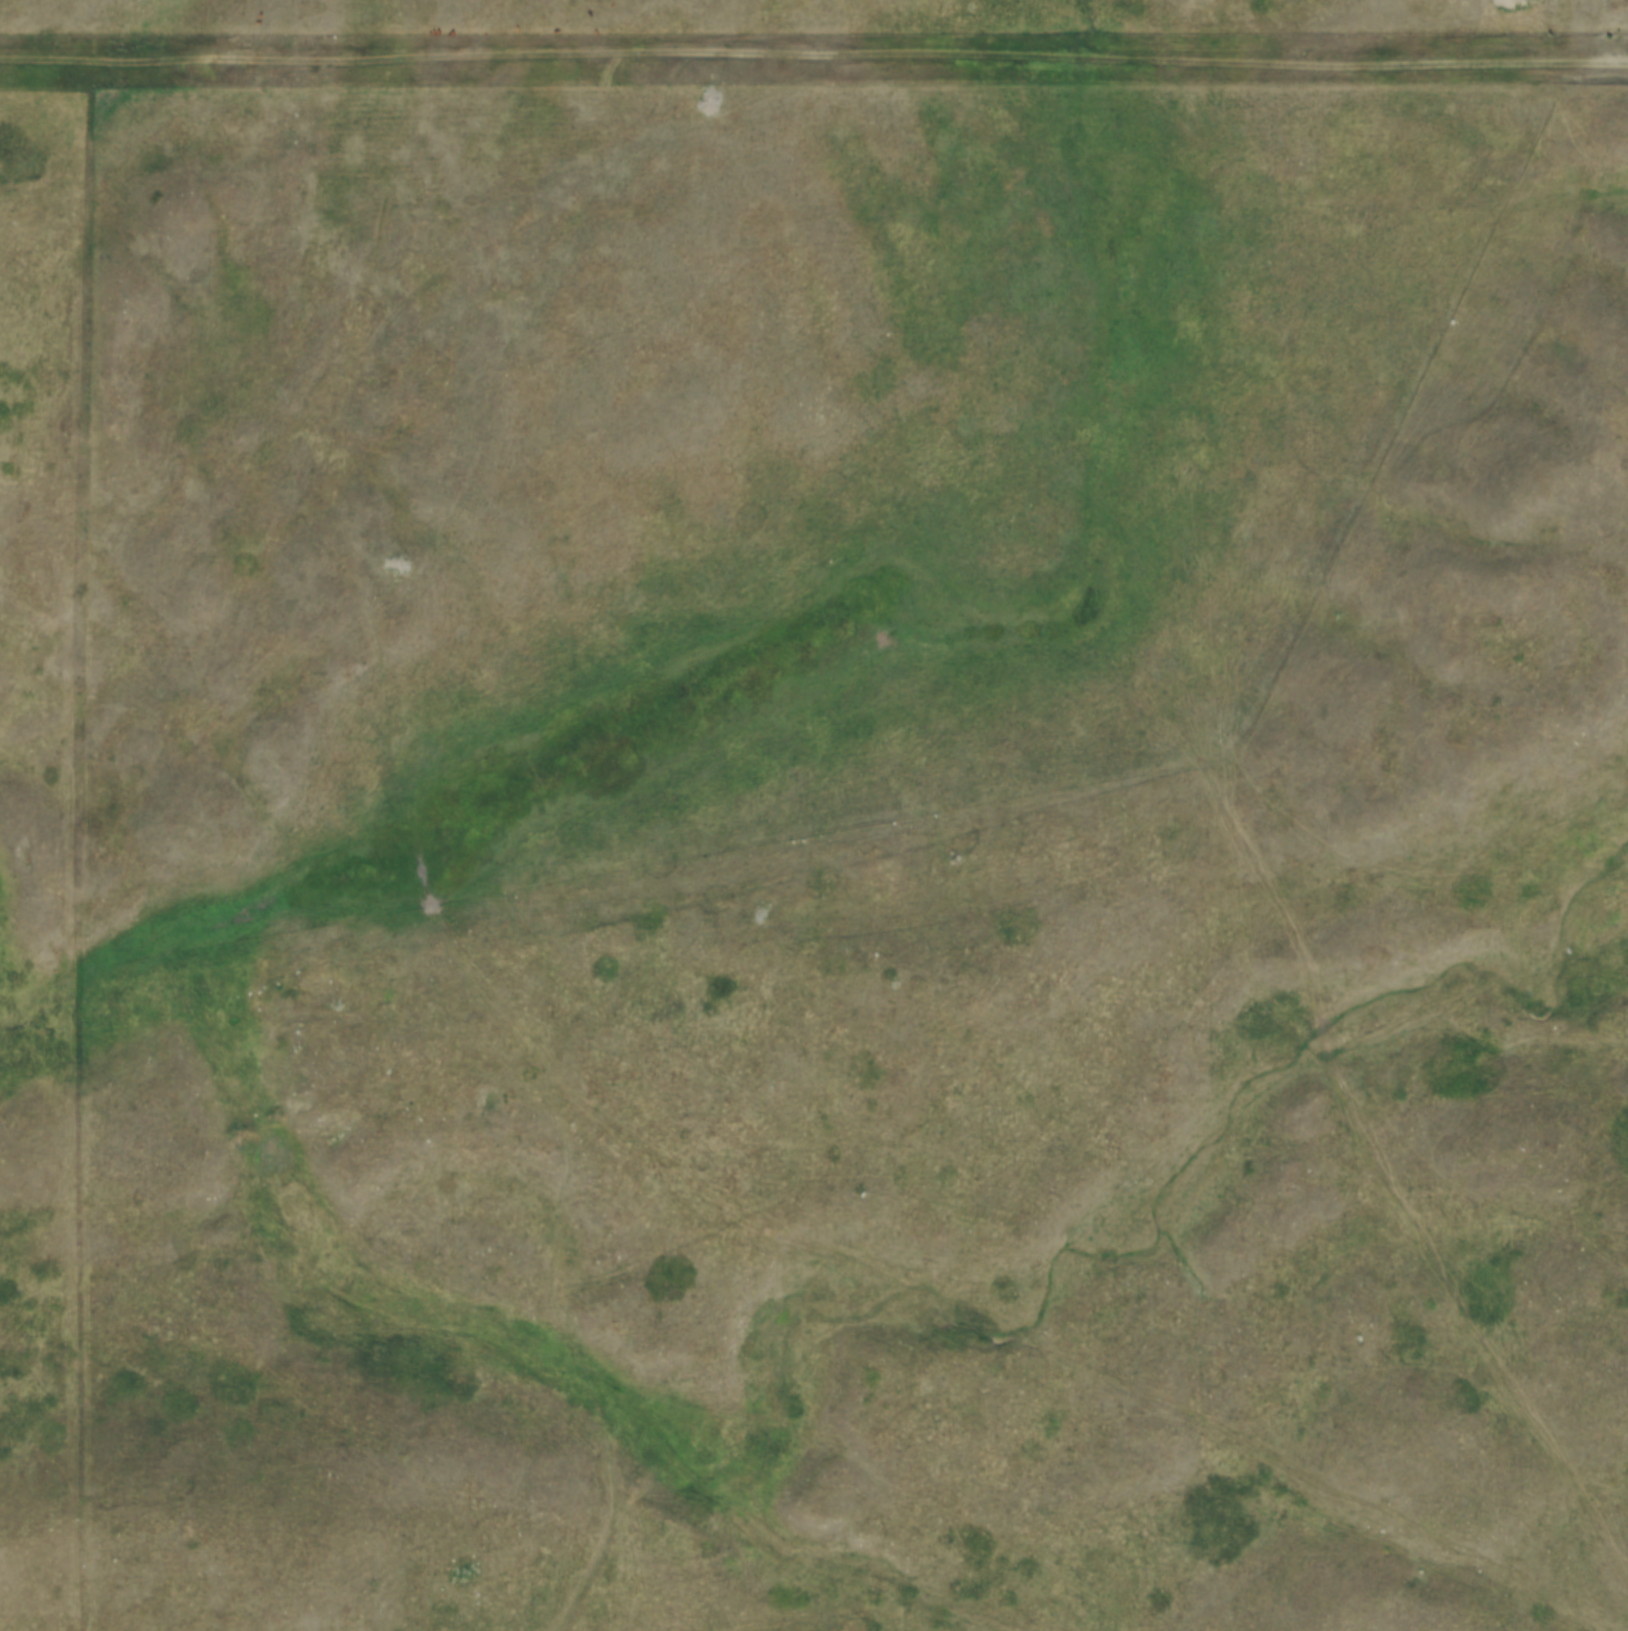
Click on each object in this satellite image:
quarry: (1567, 14)
road: (814, 54)

